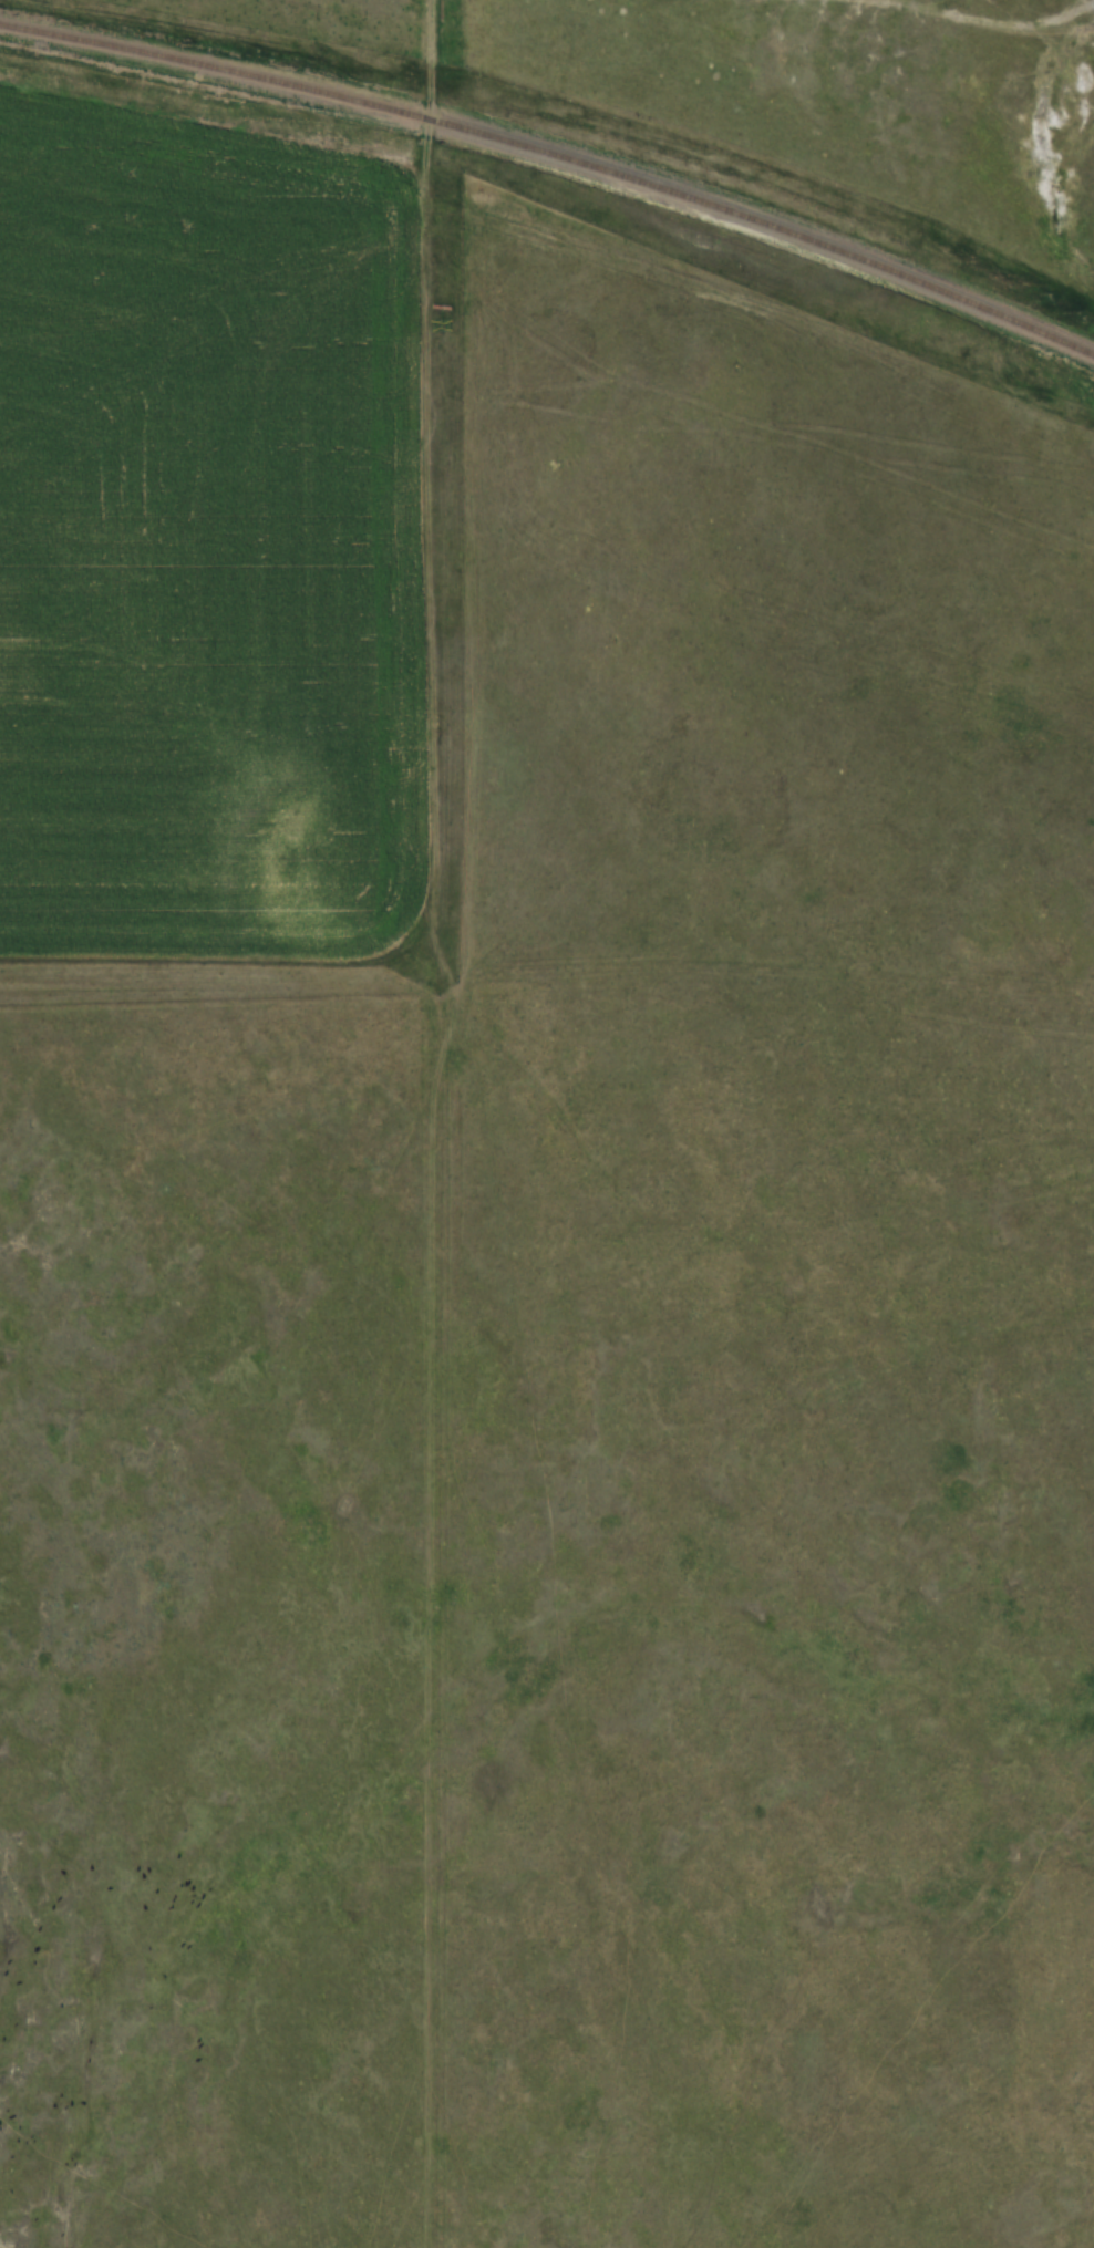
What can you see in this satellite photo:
railway: (556, 160)

